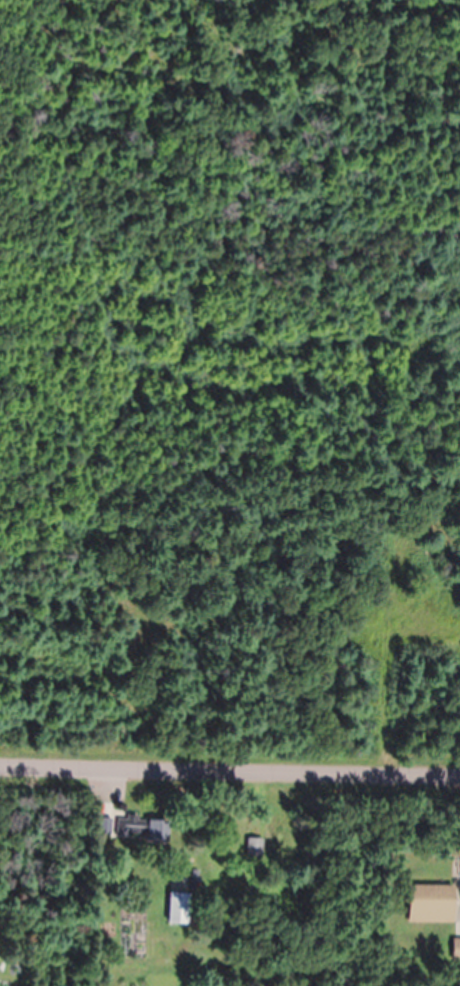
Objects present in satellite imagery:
road: (230, 761)
building: (104, 826)
building: (145, 829)
building: (255, 848)
building: (430, 896)
building: (179, 909)
building: (456, 950)

